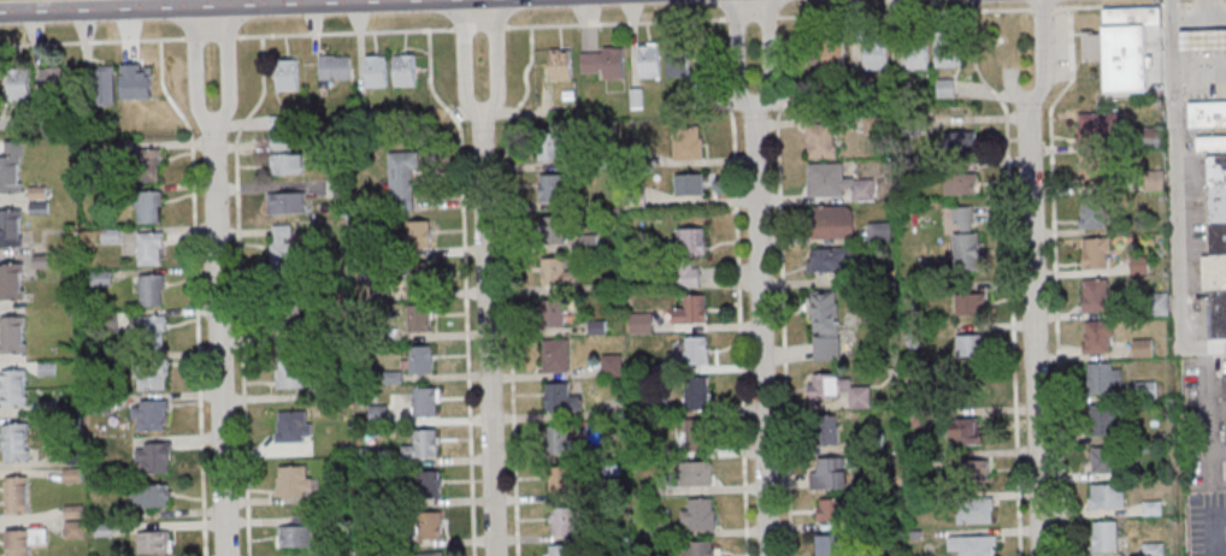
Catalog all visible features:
road: (1224, 1)
road: (269, 2)
road: (1138, 5)
road: (78, 8)
road: (1042, 8)
road: (904, 12)
road: (1207, 14)
road: (751, 18)
road: (615, 22)
road: (481, 26)
road: (346, 31)
road: (211, 36)
building: (1202, 40)
road: (1208, 40)
road: (92, 41)
building: (1122, 46)
building: (948, 52)
building: (829, 54)
building: (876, 57)
building: (916, 58)
road: (1041, 58)
building: (648, 59)
road: (1216, 59)
road: (464, 60)
road: (495, 60)
road: (738, 60)
road: (768, 60)
building: (602, 61)
building: (678, 63)
building: (560, 64)
building: (334, 67)
road: (198, 70)
road: (225, 70)
building: (376, 70)
building: (403, 70)
building: (287, 73)
building: (17, 83)
building: (52, 83)
building: (104, 85)
building: (945, 88)
building: (1206, 114)
building: (1098, 129)
building: (820, 140)
building: (962, 140)
building: (686, 143)
building: (1210, 144)
building: (552, 147)
building: (147, 164)
building: (287, 164)
building: (11, 167)
building: (1094, 170)
building: (402, 182)
building: (838, 182)
building: (960, 184)
building: (689, 187)
building: (550, 188)
road: (1175, 196)
building: (285, 202)
building: (148, 206)
building: (1094, 213)
building: (833, 221)
building: (11, 227)
building: (552, 229)
building: (880, 232)
building: (419, 233)
building: (965, 239)
building: (1216, 243)
building: (149, 248)
building: (282, 248)
building: (1095, 253)
building: (690, 255)
building: (829, 259)
building: (555, 272)
building: (420, 274)
road: (1010, 278)
road: (1055, 278)
building: (12, 280)
road: (782, 280)
road: (508, 285)
road: (738, 285)
road: (465, 288)
building: (151, 290)
road: (240, 291)
road: (195, 292)
building: (1095, 296)
building: (969, 304)
building: (691, 310)
building: (552, 315)
building: (419, 317)
building: (825, 325)
building: (153, 329)
building: (12, 333)
road: (1035, 333)
road: (489, 335)
building: (1098, 336)
road: (761, 337)
road: (219, 344)
building: (969, 347)
building: (1143, 349)
building: (696, 351)
building: (555, 356)
building: (420, 359)
building: (153, 374)
building: (291, 375)
building: (1104, 378)
building: (824, 386)
building: (13, 388)
building: (1145, 389)
building: (697, 395)
building: (859, 396)
building: (561, 397)
building: (426, 401)
building: (1225, 404)
road: (1204, 406)
building: (151, 414)
building: (1102, 420)
building: (294, 426)
building: (825, 430)
building: (967, 431)
building: (696, 434)
building: (16, 440)
building: (562, 440)
building: (423, 444)
building: (153, 456)
building: (1104, 461)
building: (697, 473)
building: (830, 473)
building: (974, 473)
building: (295, 480)
building: (561, 480)
building: (430, 484)
building: (17, 493)
building: (153, 495)
building: (1106, 497)
building: (831, 508)
building: (974, 510)
building: (699, 514)
building: (73, 521)
building: (566, 524)
building: (429, 527)
building: (295, 533)
building: (24, 540)
building: (153, 540)
building: (1103, 540)
building: (831, 545)
building: (974, 545)
building: (701, 548)
building: (561, 550)
road: (1216, 551)
building: (429, 554)

